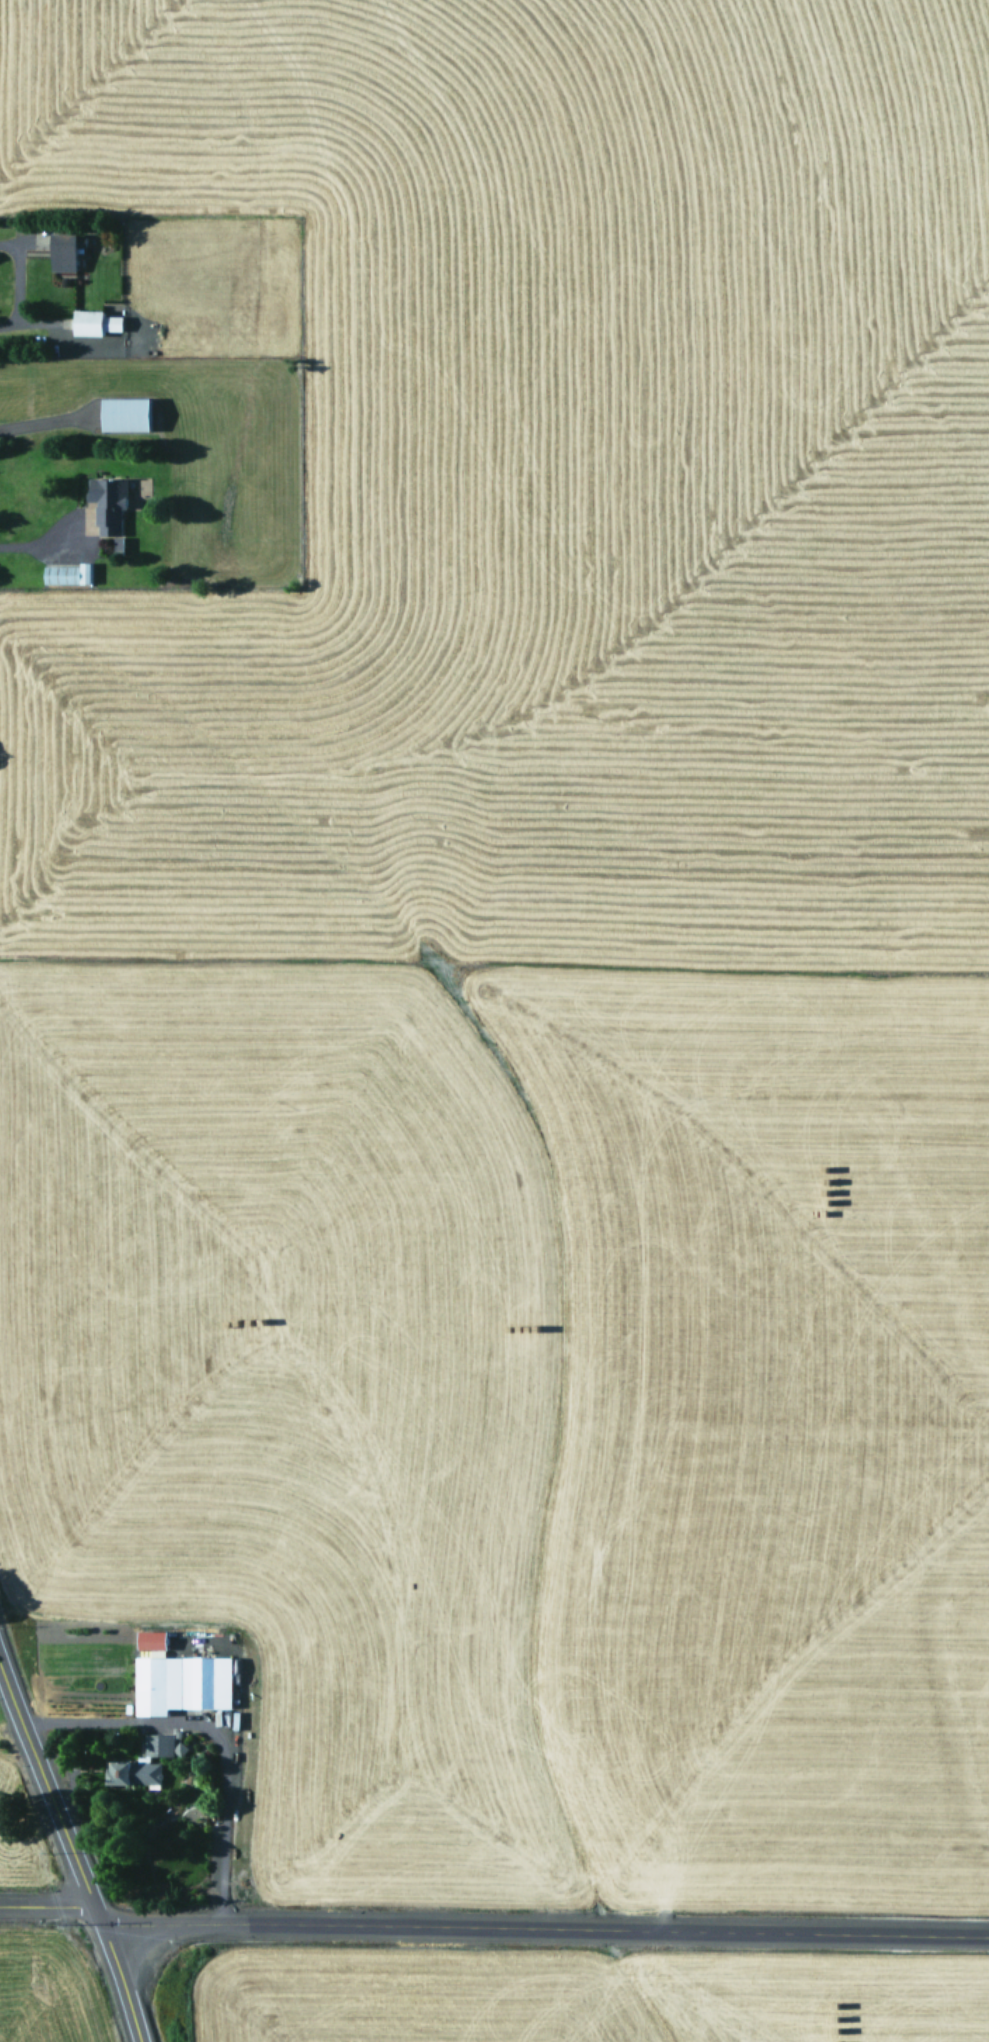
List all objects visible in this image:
building: (65, 253)
building: (97, 323)
building: (127, 415)
building: (106, 509)
building: (68, 574)
crop: (508, 926)
building: (183, 1684)
road: (70, 1860)
road: (493, 1928)
crop: (32, 1941)
crop: (581, 1998)

